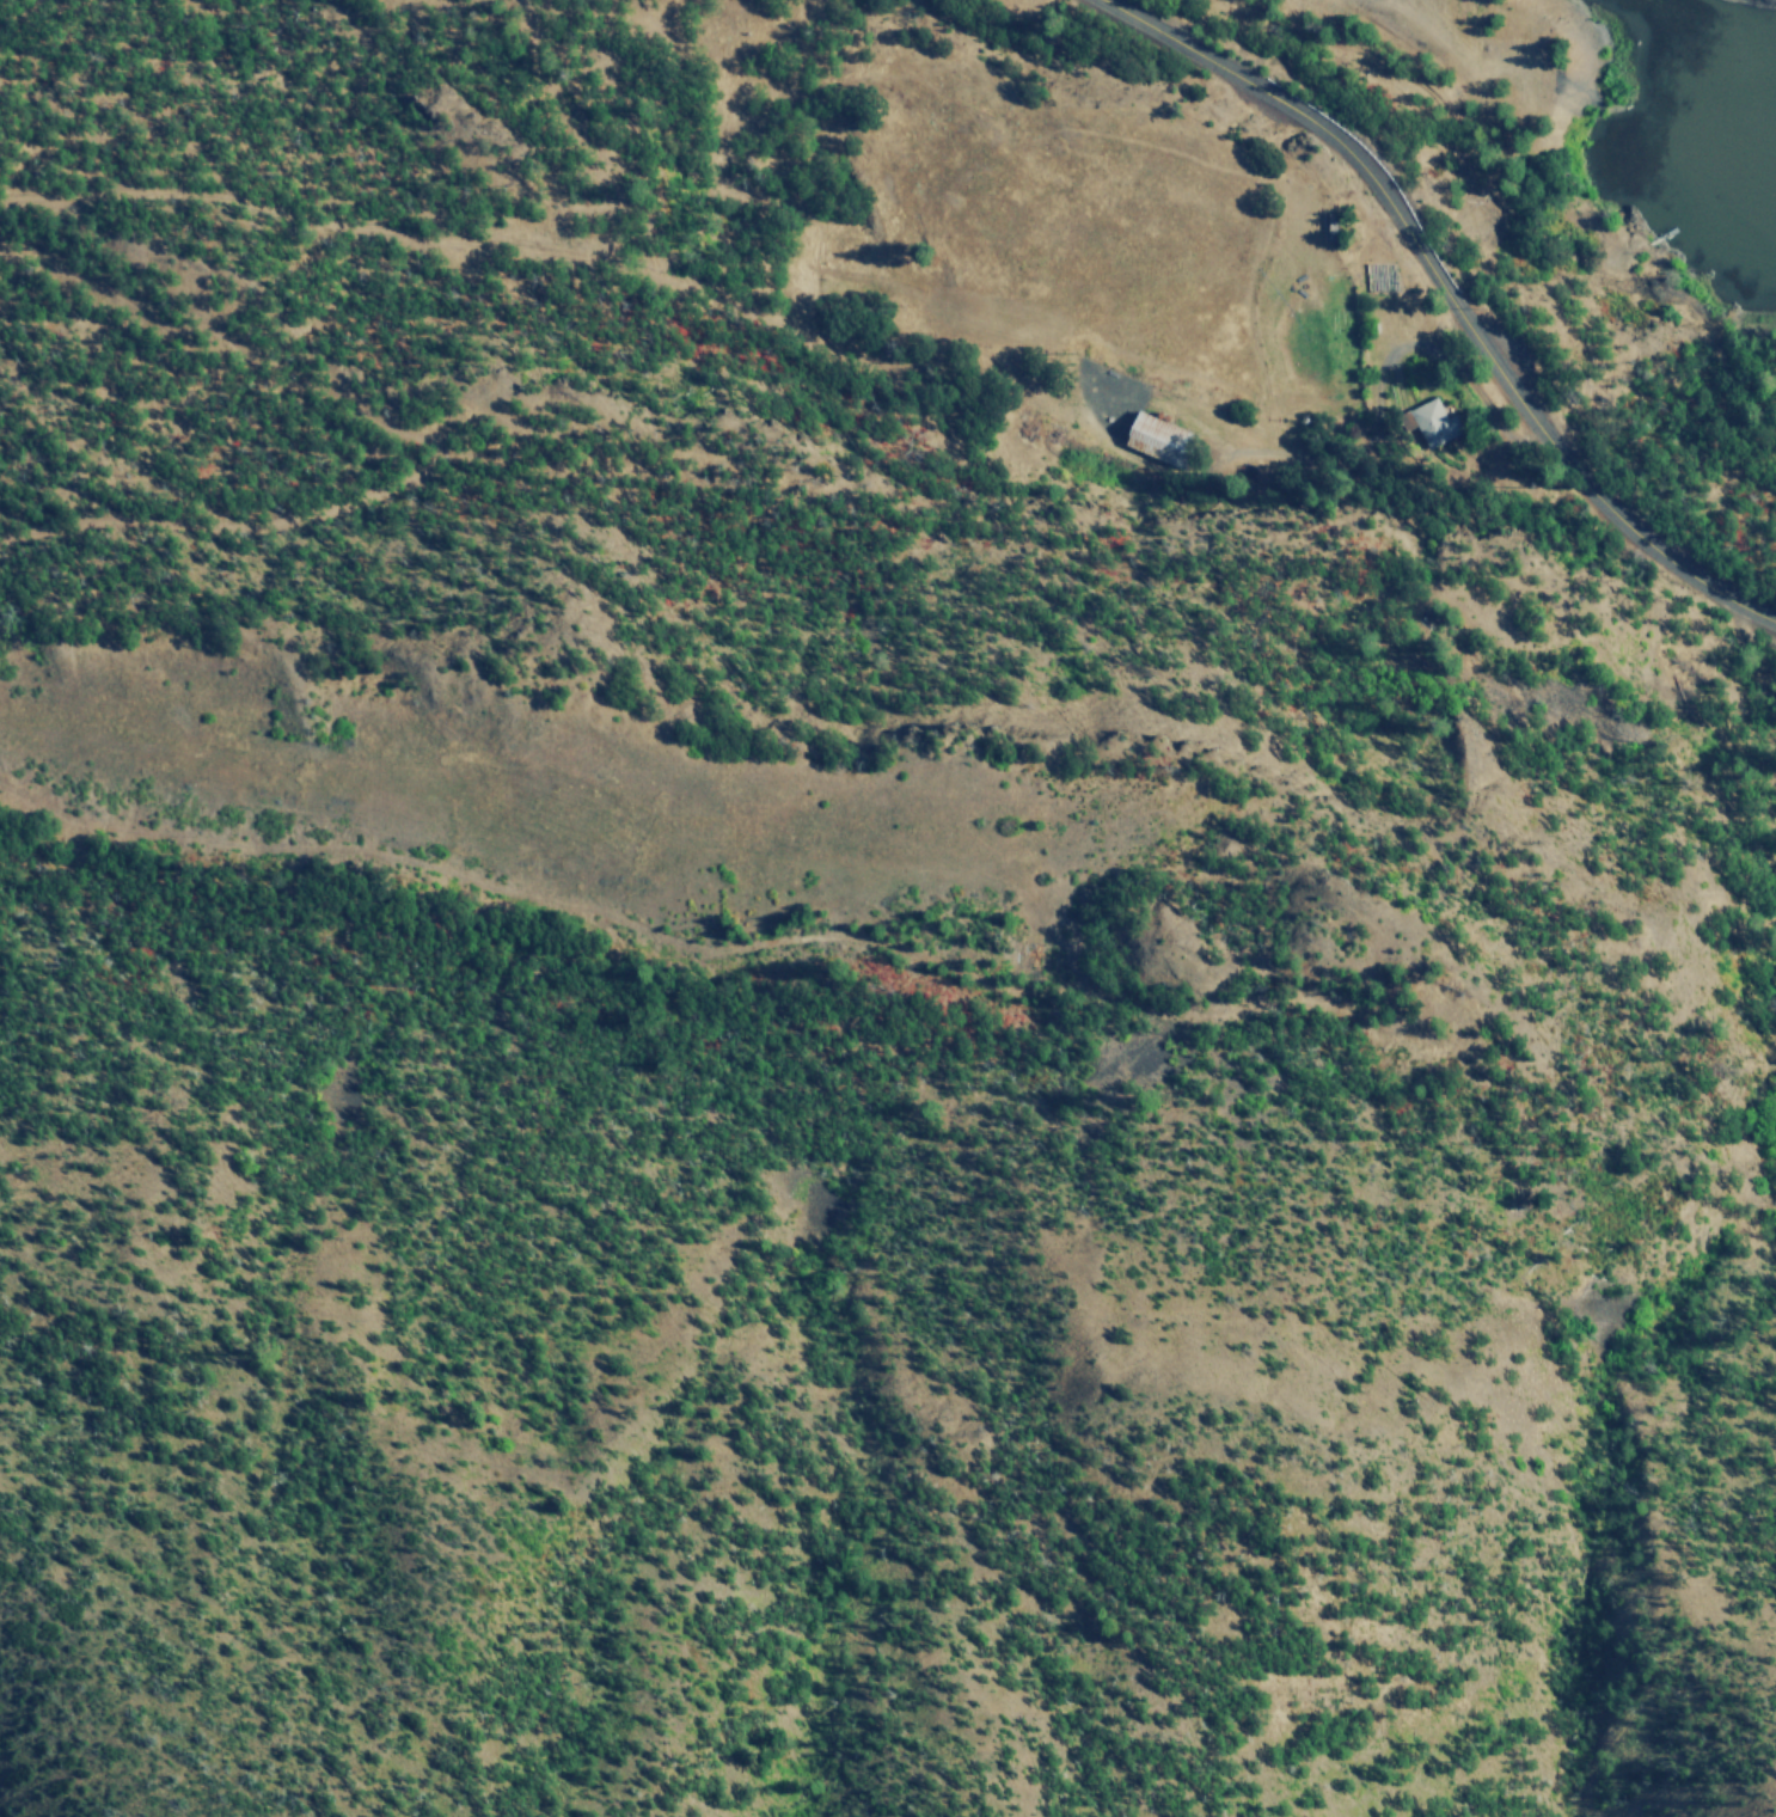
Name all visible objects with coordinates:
road: (1455, 296)
road: (1489, 406)
building: (1431, 424)
building: (1159, 441)
road: (1300, 455)

